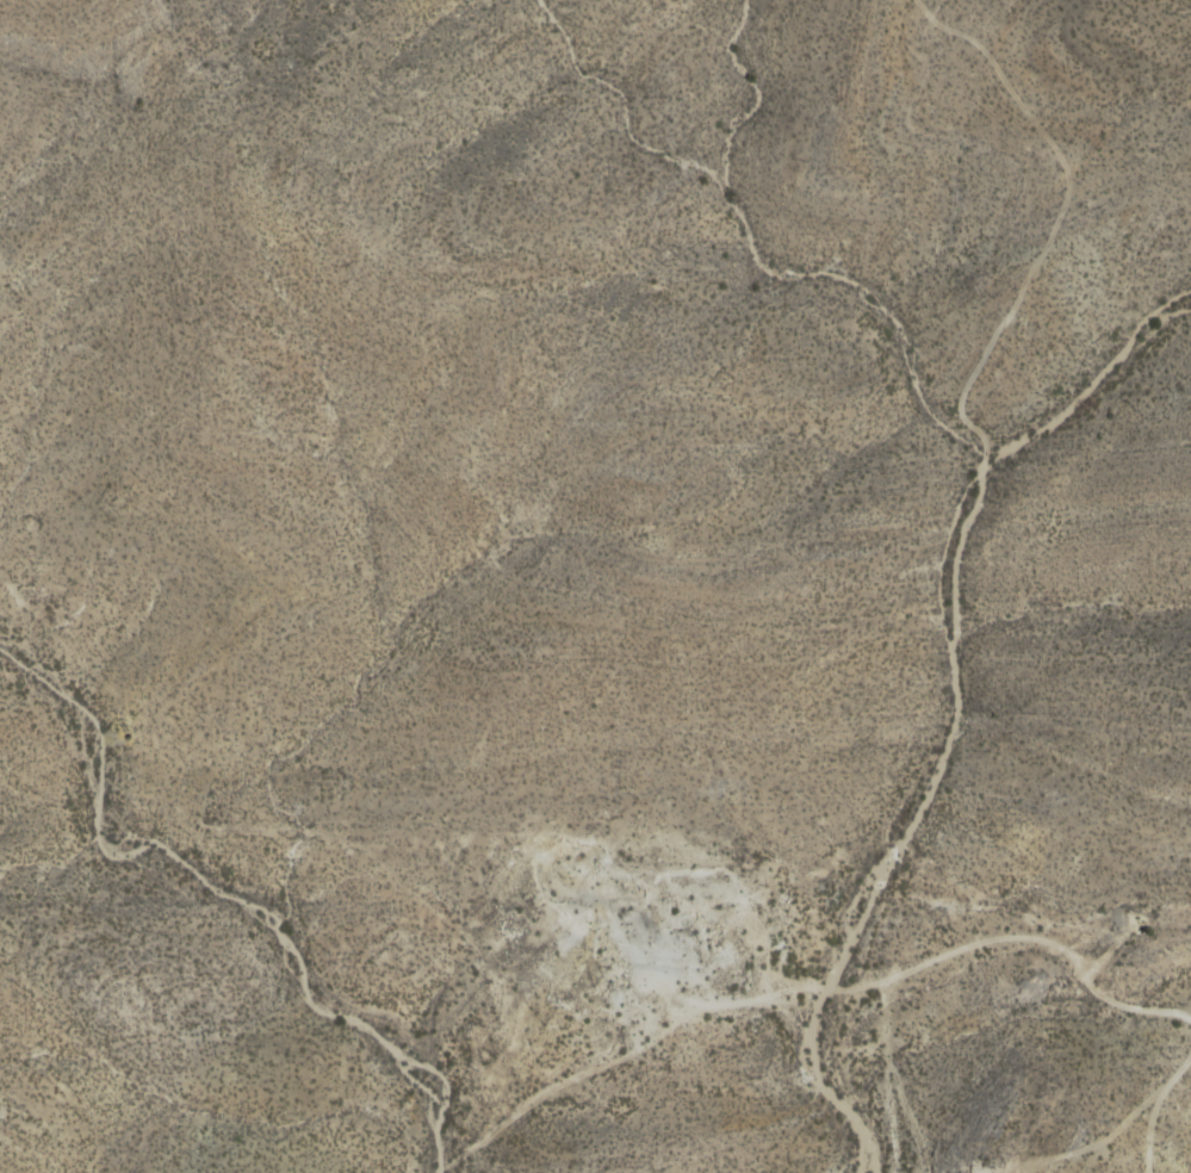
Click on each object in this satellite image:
road: (978, 981)

